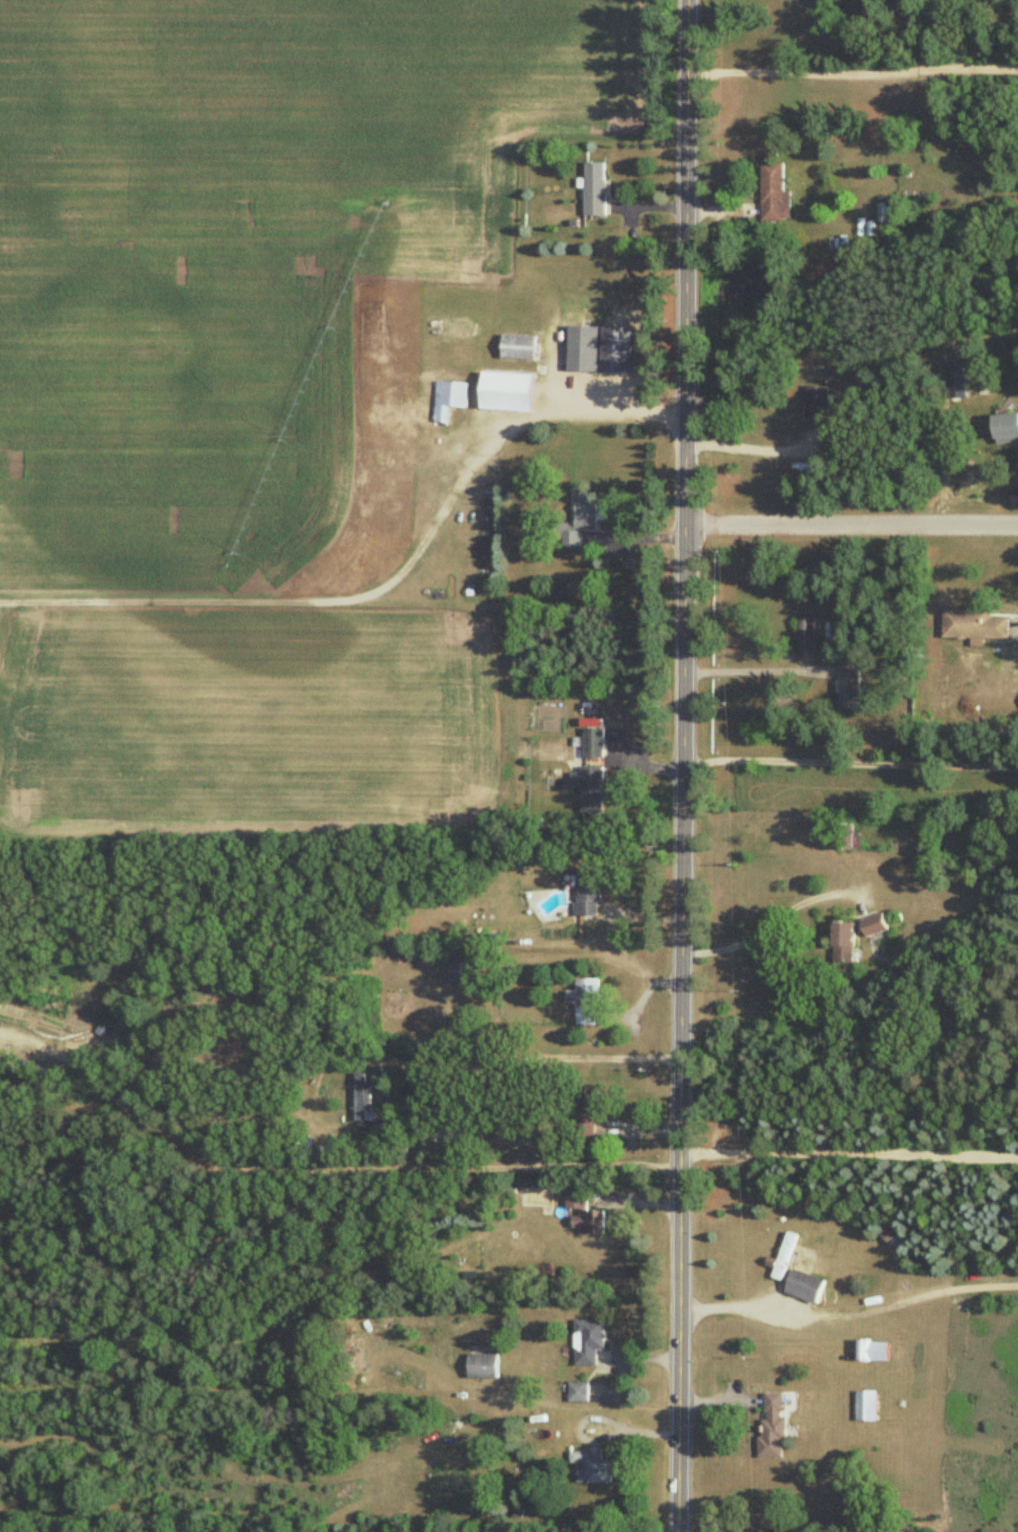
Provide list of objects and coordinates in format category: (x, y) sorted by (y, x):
road: (852, 74)
building: (595, 189)
building: (774, 194)
building: (887, 214)
building: (519, 348)
building: (600, 350)
building: (507, 393)
building: (449, 400)
road: (615, 403)
building: (816, 403)
building: (1006, 429)
road: (750, 448)
road: (851, 521)
building: (577, 522)
road: (629, 537)
building: (973, 627)
building: (805, 636)
road: (751, 671)
building: (848, 688)
building: (592, 744)
road: (850, 763)
road: (682, 765)
building: (589, 789)
building: (845, 837)
building: (588, 894)
road: (770, 919)
building: (875, 927)
building: (844, 944)
building: (466, 973)
building: (585, 1002)
road: (536, 1059)
building: (363, 1100)
building: (587, 1114)
building: (451, 1135)
road: (849, 1157)
road: (320, 1171)
building: (583, 1213)
building: (890, 1236)
building: (784, 1259)
building: (804, 1287)
road: (850, 1314)
building: (588, 1341)
building: (872, 1351)
building: (483, 1366)
building: (578, 1392)
building: (865, 1406)
building: (772, 1428)
building: (592, 1467)

